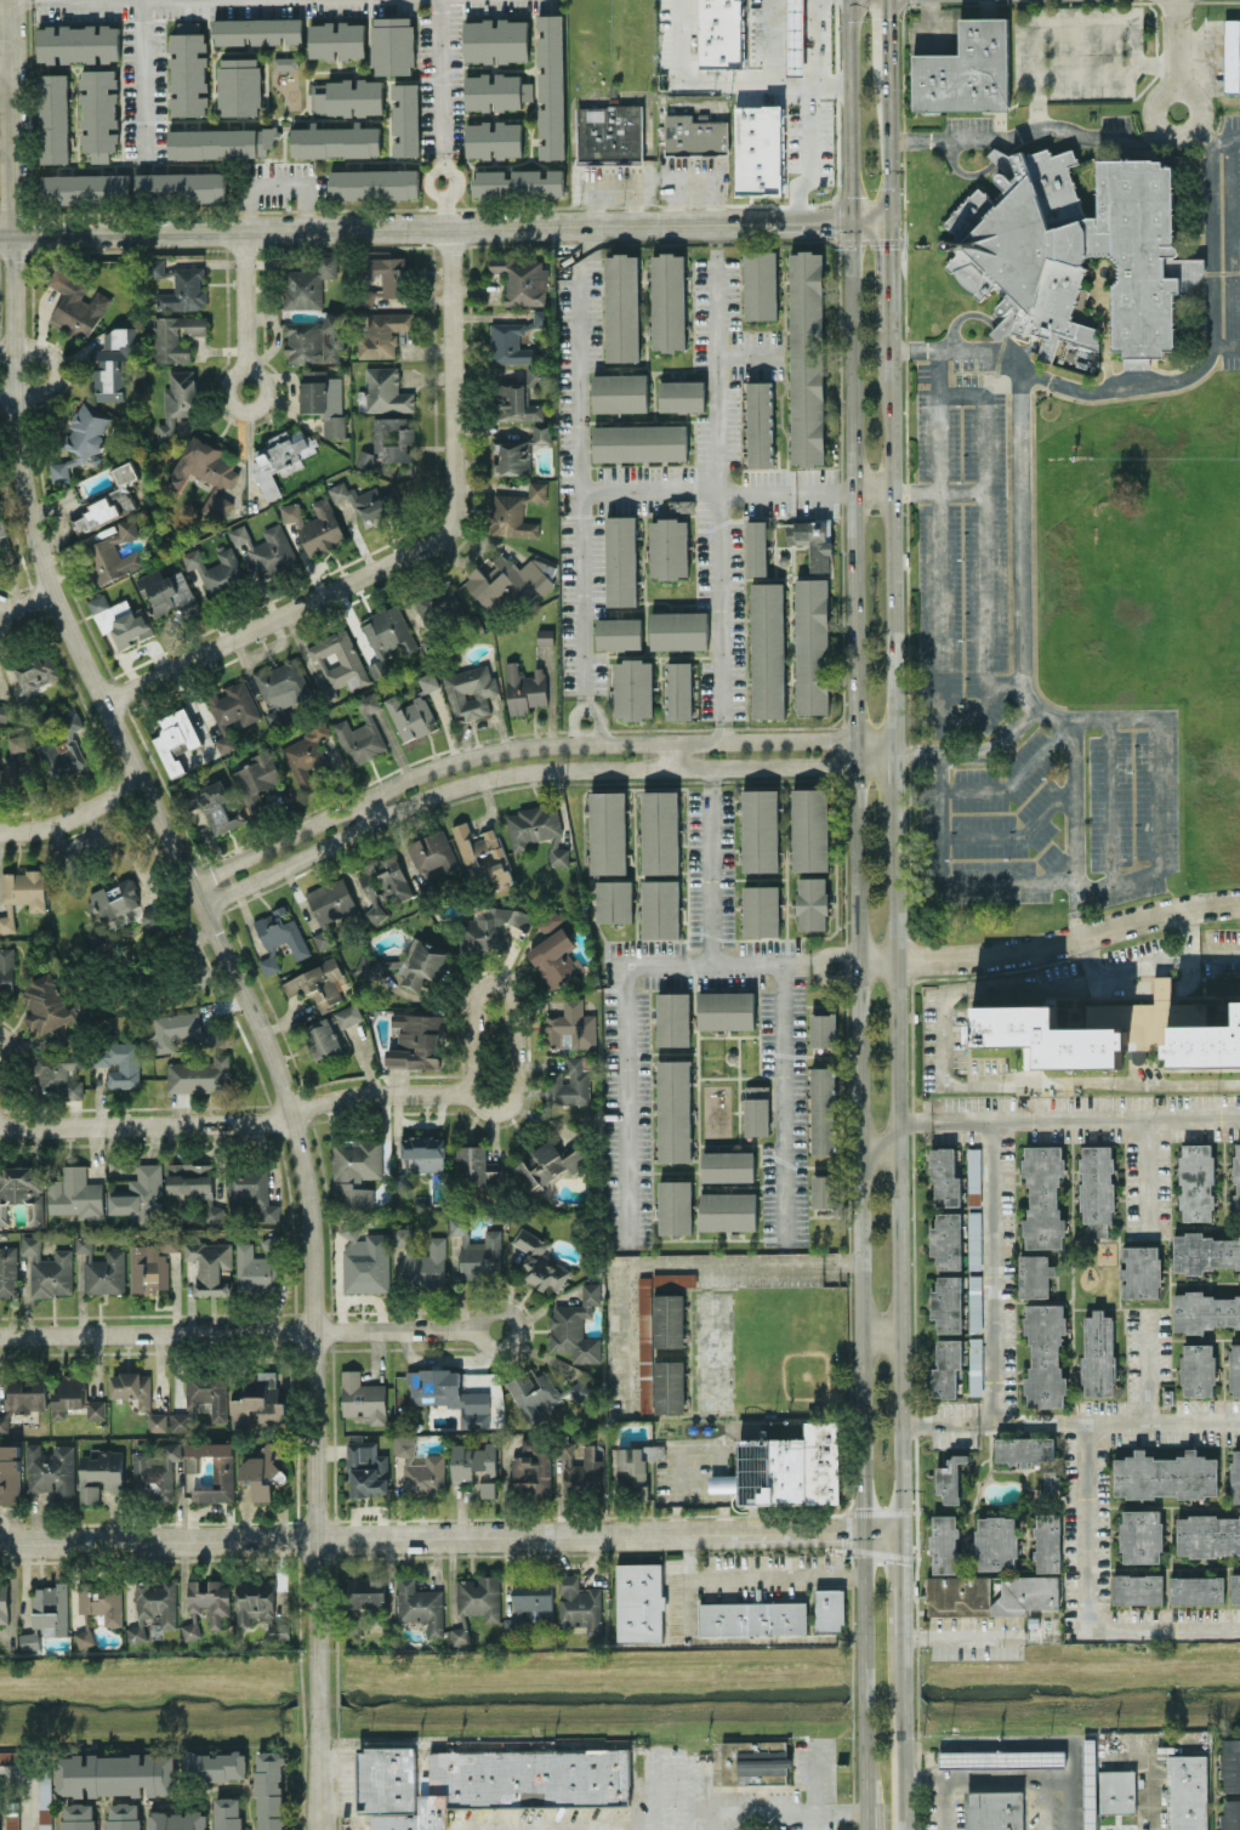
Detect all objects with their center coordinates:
building: (257, 29)
building: (721, 33)
road: (886, 35)
building: (795, 36)
building: (336, 39)
building: (495, 39)
road: (1177, 41)
building: (78, 42)
building: (392, 45)
road: (1136, 46)
building: (1232, 55)
building: (284, 62)
road: (1156, 62)
building: (188, 68)
road: (7, 69)
building: (965, 70)
road: (727, 76)
road: (1037, 76)
road: (143, 84)
building: (239, 85)
building: (551, 85)
building: (497, 91)
road: (1162, 95)
building: (347, 96)
building: (98, 113)
road: (444, 113)
building: (52, 118)
building: (405, 118)
road: (1026, 129)
building: (609, 133)
building: (695, 135)
road: (1225, 137)
building: (494, 138)
building: (336, 141)
building: (220, 142)
road: (7, 147)
road: (888, 148)
building: (758, 149)
road: (808, 155)
building: (517, 182)
road: (273, 183)
building: (374, 183)
road: (693, 183)
building: (85, 186)
building: (181, 186)
road: (613, 187)
road: (444, 228)
parking lot: (1229, 239)
road: (1232, 240)
building: (1074, 249)
building: (382, 278)
building: (521, 279)
road: (889, 279)
building: (307, 283)
building: (760, 284)
building: (177, 285)
building: (76, 301)
road: (244, 301)
building: (667, 301)
building: (621, 307)
building: (382, 333)
building: (175, 336)
building: (513, 339)
building: (313, 340)
road: (1225, 343)
road: (747, 354)
building: (806, 357)
building: (113, 362)
road: (57, 371)
road: (716, 374)
road: (233, 375)
road: (851, 376)
road: (1162, 382)
building: (382, 391)
building: (620, 392)
road: (961, 393)
building: (518, 396)
building: (682, 396)
building: (323, 400)
building: (176, 402)
building: (760, 424)
road: (450, 432)
building: (81, 438)
building: (388, 441)
building: (639, 442)
building: (518, 450)
building: (280, 457)
building: (93, 459)
building: (204, 473)
road: (581, 478)
road: (649, 490)
road: (756, 490)
road: (823, 490)
road: (871, 490)
road: (937, 491)
building: (109, 499)
building: (681, 505)
building: (368, 508)
building: (516, 511)
building: (1, 525)
building: (314, 525)
road: (940, 532)
building: (812, 540)
road: (892, 542)
building: (669, 547)
building: (756, 547)
building: (267, 550)
road: (983, 550)
building: (112, 555)
building: (620, 559)
building: (216, 570)
building: (508, 580)
building: (167, 592)
road: (1023, 598)
road: (29, 601)
building: (436, 609)
road: (721, 615)
road: (4, 618)
building: (119, 619)
building: (678, 630)
building: (619, 632)
building: (387, 636)
building: (545, 636)
road: (231, 644)
building: (812, 646)
building: (767, 649)
building: (337, 663)
building: (30, 681)
building: (281, 688)
building: (523, 688)
building: (633, 688)
building: (678, 689)
building: (470, 690)
road: (585, 695)
road: (984, 704)
building: (232, 710)
building: (414, 710)
building: (4, 711)
road: (571, 717)
road: (595, 718)
building: (362, 732)
building: (176, 739)
road: (512, 748)
building: (63, 752)
road: (973, 752)
road: (677, 754)
road: (874, 754)
building: (307, 755)
building: (10, 761)
road: (517, 771)
building: (257, 774)
road: (1016, 775)
road: (893, 796)
road: (1109, 799)
building: (212, 803)
road: (369, 809)
road: (74, 815)
building: (809, 829)
road: (1075, 829)
building: (537, 830)
building: (760, 830)
building: (607, 831)
building: (659, 831)
road: (1014, 832)
road: (1156, 834)
building: (432, 853)
building: (482, 856)
road: (712, 864)
road: (945, 879)
building: (383, 885)
building: (23, 888)
building: (113, 900)
building: (614, 900)
building: (812, 903)
road: (204, 904)
building: (660, 908)
building: (761, 910)
building: (152, 919)
building: (548, 920)
building: (6, 922)
building: (491, 927)
road: (1189, 930)
building: (280, 932)
building: (322, 939)
road: (1048, 944)
road: (1219, 949)
road: (1091, 955)
building: (554, 957)
road: (1142, 962)
building: (269, 964)
building: (410, 964)
building: (6, 968)
building: (318, 984)
building: (1162, 987)
road: (506, 989)
road: (626, 993)
building: (45, 1005)
building: (726, 1010)
building: (673, 1018)
building: (570, 1025)
building: (823, 1029)
building: (181, 1030)
building: (329, 1030)
building: (1047, 1036)
building: (69, 1040)
building: (416, 1040)
building: (1205, 1044)
road: (4, 1050)
building: (120, 1063)
building: (58, 1074)
building: (199, 1074)
building: (568, 1084)
road: (972, 1086)
road: (783, 1104)
building: (756, 1109)
building: (673, 1110)
building: (823, 1110)
road: (1083, 1118)
road: (912, 1120)
road: (237, 1123)
road: (857, 1143)
road: (877, 1150)
building: (423, 1152)
building: (477, 1163)
building: (546, 1164)
building: (727, 1165)
building: (354, 1170)
road: (1145, 1173)
building: (973, 1175)
building: (944, 1176)
building: (1236, 1177)
building: (403, 1180)
building: (1196, 1181)
building: (1097, 1182)
building: (193, 1187)
road: (897, 1187)
building: (251, 1189)
building: (824, 1189)
building: (22, 1190)
building: (75, 1193)
building: (141, 1195)
building: (1043, 1198)
building: (675, 1206)
building: (728, 1210)
building: (1097, 1228)
building: (973, 1239)
building: (946, 1240)
building: (477, 1251)
building: (1204, 1251)
building: (364, 1258)
building: (421, 1258)
building: (539, 1262)
road: (741, 1262)
building: (150, 1264)
building: (210, 1266)
building: (47, 1268)
building: (101, 1268)
building: (254, 1269)
building: (7, 1271)
road: (991, 1271)
building: (1141, 1271)
building: (1034, 1275)
building: (974, 1302)
building: (946, 1303)
building: (1204, 1309)
building: (667, 1319)
building: (575, 1326)
road: (237, 1331)
road: (878, 1335)
road: (625, 1339)
road: (485, 1343)
building: (644, 1348)
building: (1098, 1353)
building: (1045, 1354)
road: (1147, 1364)
building: (975, 1365)
building: (946, 1366)
building: (1198, 1369)
building: (1235, 1370)
building: (669, 1386)
building: (581, 1389)
building: (531, 1392)
building: (210, 1393)
building: (68, 1394)
building: (448, 1394)
building: (138, 1396)
building: (22, 1397)
building: (363, 1397)
building: (95, 1409)
building: (180, 1421)
road: (1107, 1421)
road: (937, 1422)
road: (696, 1447)
building: (1024, 1449)
building: (471, 1460)
building: (636, 1465)
building: (263, 1468)
building: (531, 1468)
building: (786, 1468)
building: (50, 1470)
building: (155, 1470)
building: (212, 1470)
building: (366, 1470)
building: (421, 1471)
building: (8, 1473)
building: (99, 1473)
building: (1165, 1474)
building: (1235, 1476)
building: (949, 1478)
building: (1051, 1483)
building: (488, 1488)
traffic signals: (861, 1534)
road: (881, 1534)
building: (1141, 1534)
road: (587, 1535)
traffic signals: (900, 1535)
building: (1207, 1535)
road: (157, 1541)
building: (996, 1542)
building: (1047, 1542)
building: (944, 1544)
road: (775, 1575)
road: (900, 1585)
building: (1235, 1587)
building: (1137, 1589)
building: (1196, 1589)
road: (689, 1590)
building: (365, 1592)
building: (990, 1593)
building: (478, 1596)
building: (534, 1596)
building: (101, 1599)
building: (210, 1599)
road: (1086, 1599)
building: (2, 1602)
building: (638, 1602)
building: (420, 1604)
building: (579, 1604)
building: (153, 1607)
building: (258, 1607)
building: (50, 1608)
building: (829, 1610)
building: (752, 1619)
building: (511, 1626)
building: (190, 1630)
road: (960, 1633)
building: (460, 1635)
building: (84, 1637)
building: (29, 1639)
road: (863, 1667)
road: (901, 1732)
road: (1149, 1745)
building: (10, 1756)
building: (1009, 1756)
building: (753, 1762)
building: (1230, 1763)
building: (215, 1766)
road: (13, 1771)
building: (114, 1774)
road: (939, 1778)
road: (1013, 1778)
road: (817, 1780)
building: (488, 1783)
building: (1090, 1784)
road: (1148, 1788)
building: (269, 1790)
building: (1116, 1791)
building: (1188, 1791)
road: (670, 1792)
road: (340, 1794)
road: (27, 1800)
building: (44, 1802)
building: (994, 1809)
road: (777, 1812)
building: (227, 1813)
building: (1230, 1814)
building: (78, 1815)
building: (124, 1815)
road: (864, 1817)
building: (176, 1820)
road: (818, 1820)
building: (11, 1823)

